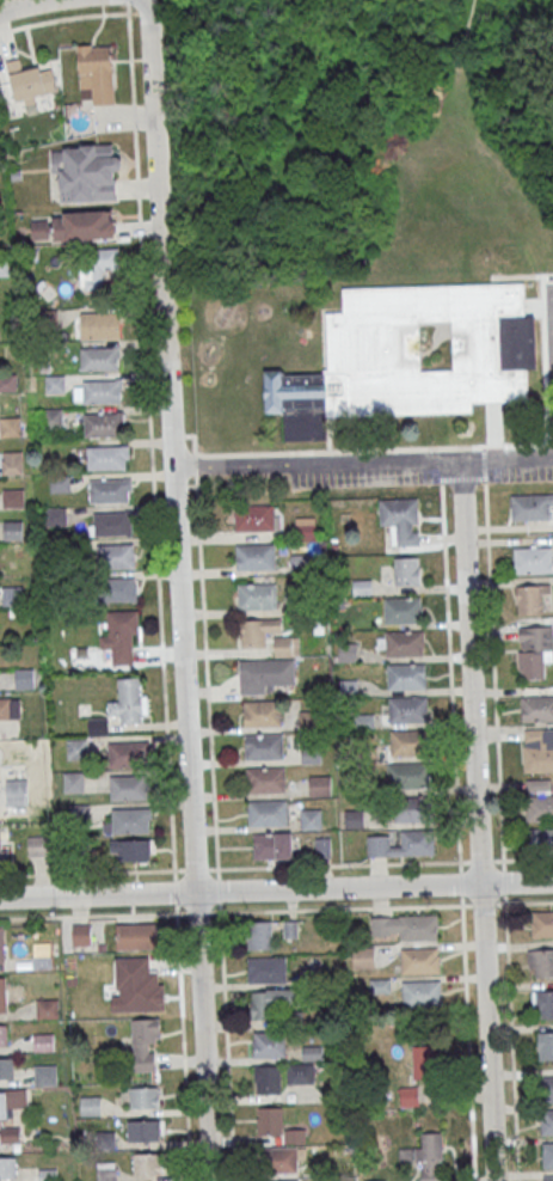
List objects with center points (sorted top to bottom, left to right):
road: (29, 5)
building: (98, 71)
building: (30, 81)
park: (365, 129)
road: (467, 155)
building: (84, 172)
building: (73, 226)
building: (5, 265)
building: (97, 265)
road: (552, 310)
building: (99, 325)
building: (411, 356)
building: (98, 357)
road: (147, 375)
building: (55, 384)
building: (100, 391)
building: (51, 417)
building: (103, 424)
building: (105, 457)
building: (12, 461)
road: (363, 461)
building: (60, 483)
building: (109, 490)
building: (13, 497)
building: (530, 507)
building: (56, 515)
building: (253, 516)
building: (400, 519)
building: (112, 524)
building: (305, 527)
building: (116, 555)
building: (254, 555)
building: (533, 559)
building: (299, 563)
building: (406, 570)
road: (180, 588)
building: (116, 589)
building: (13, 594)
building: (257, 595)
building: (530, 596)
building: (401, 610)
building: (257, 631)
building: (121, 636)
building: (400, 643)
building: (287, 645)
building: (534, 650)
road: (205, 651)
building: (348, 651)
road: (450, 661)
building: (264, 673)
building: (406, 677)
building: (24, 678)
road: (493, 681)
building: (129, 700)
building: (7, 706)
building: (536, 708)
building: (407, 709)
building: (263, 714)
building: (307, 720)
building: (97, 726)
building: (408, 741)
building: (264, 746)
building: (76, 748)
building: (127, 753)
building: (537, 758)
building: (0, 766)
building: (405, 776)
building: (265, 779)
building: (73, 782)
building: (319, 785)
building: (129, 787)
building: (17, 793)
building: (539, 800)
building: (408, 809)
building: (266, 812)
building: (311, 819)
building: (354, 819)
building: (130, 820)
road: (477, 820)
building: (540, 837)
building: (401, 844)
building: (39, 845)
building: (271, 845)
building: (322, 846)
building: (131, 849)
building: (5, 855)
road: (505, 858)
road: (216, 869)
road: (87, 871)
road: (461, 883)
road: (276, 888)
road: (506, 902)
road: (88, 914)
building: (541, 923)
building: (417, 926)
building: (81, 935)
building: (258, 935)
building: (135, 936)
building: (1, 944)
building: (363, 957)
building: (419, 959)
building: (540, 963)
building: (266, 968)
building: (140, 984)
building: (420, 992)
building: (4, 995)
building: (271, 1002)
building: (543, 1004)
building: (47, 1008)
building: (4, 1035)
building: (43, 1041)
road: (468, 1042)
road: (511, 1042)
building: (146, 1045)
building: (269, 1045)
road: (227, 1046)
building: (545, 1046)
road: (183, 1047)
building: (424, 1061)
building: (303, 1065)
building: (6, 1069)
building: (45, 1073)
building: (266, 1079)
building: (546, 1087)
building: (143, 1096)
building: (12, 1102)
building: (90, 1104)
building: (269, 1120)
building: (546, 1121)
building: (143, 1130)
building: (10, 1134)
building: (547, 1155)
building: (426, 1156)
building: (278, 1159)
building: (148, 1163)
building: (7, 1167)
building: (106, 1173)
building: (548, 1177)

